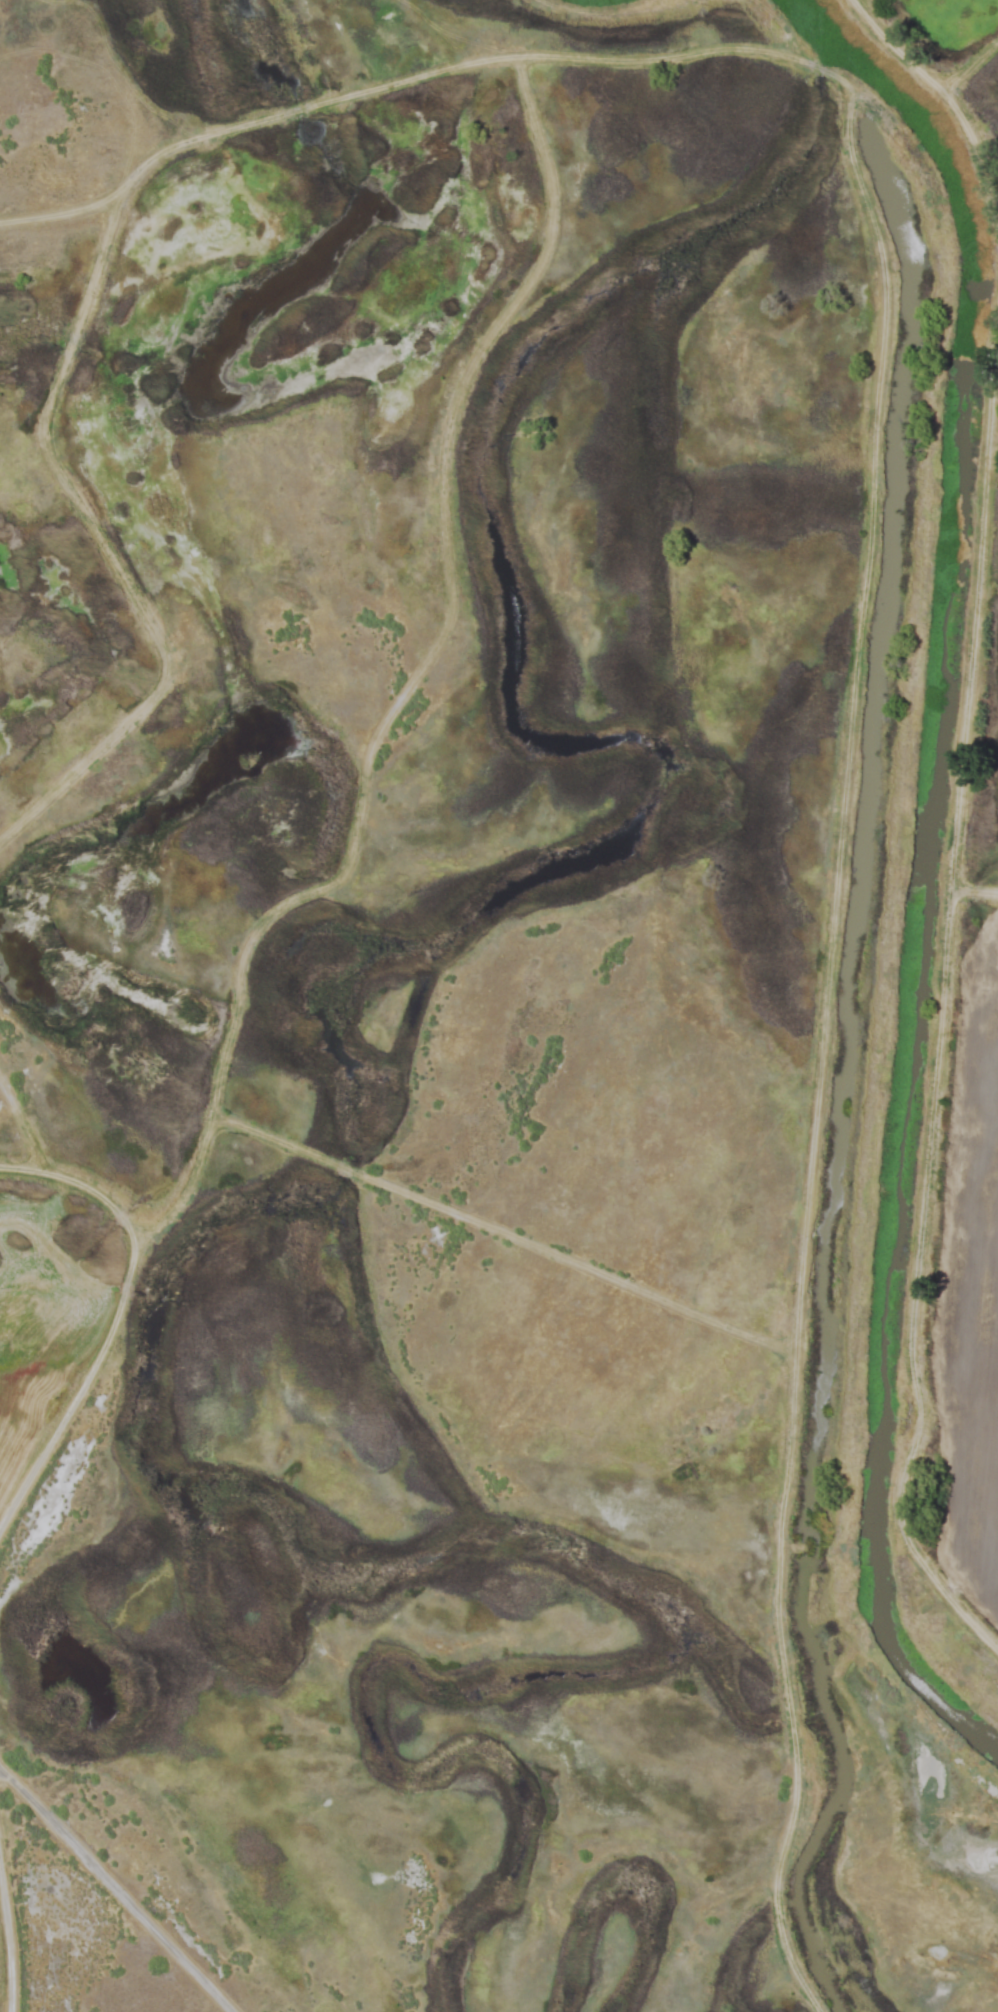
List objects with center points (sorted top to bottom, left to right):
road: (912, 72)
road: (107, 1320)
road: (123, 1893)
road: (2, 1976)

